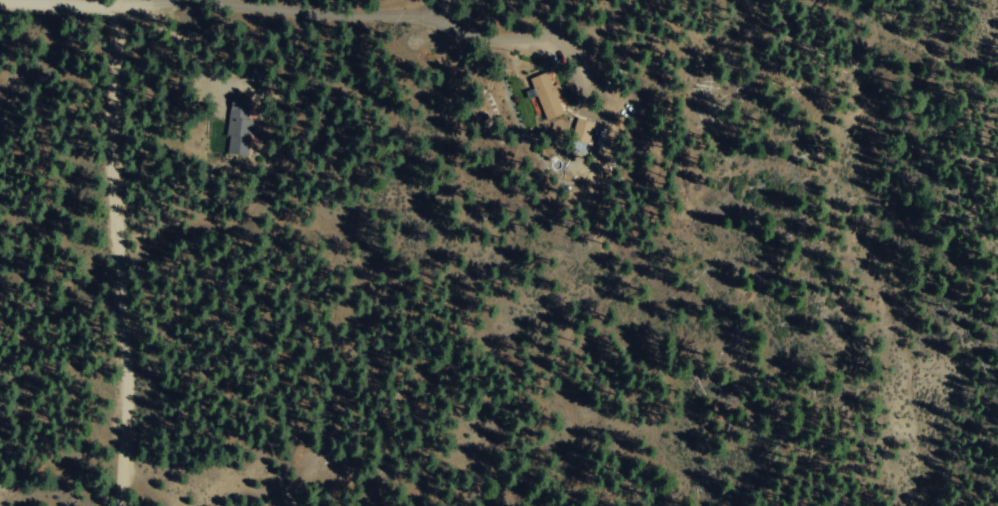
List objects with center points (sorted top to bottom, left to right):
road: (119, 3)
road: (218, 7)
road: (500, 36)
road: (190, 56)
road: (573, 65)
building: (545, 96)
building: (578, 130)
building: (235, 133)
road: (118, 255)

